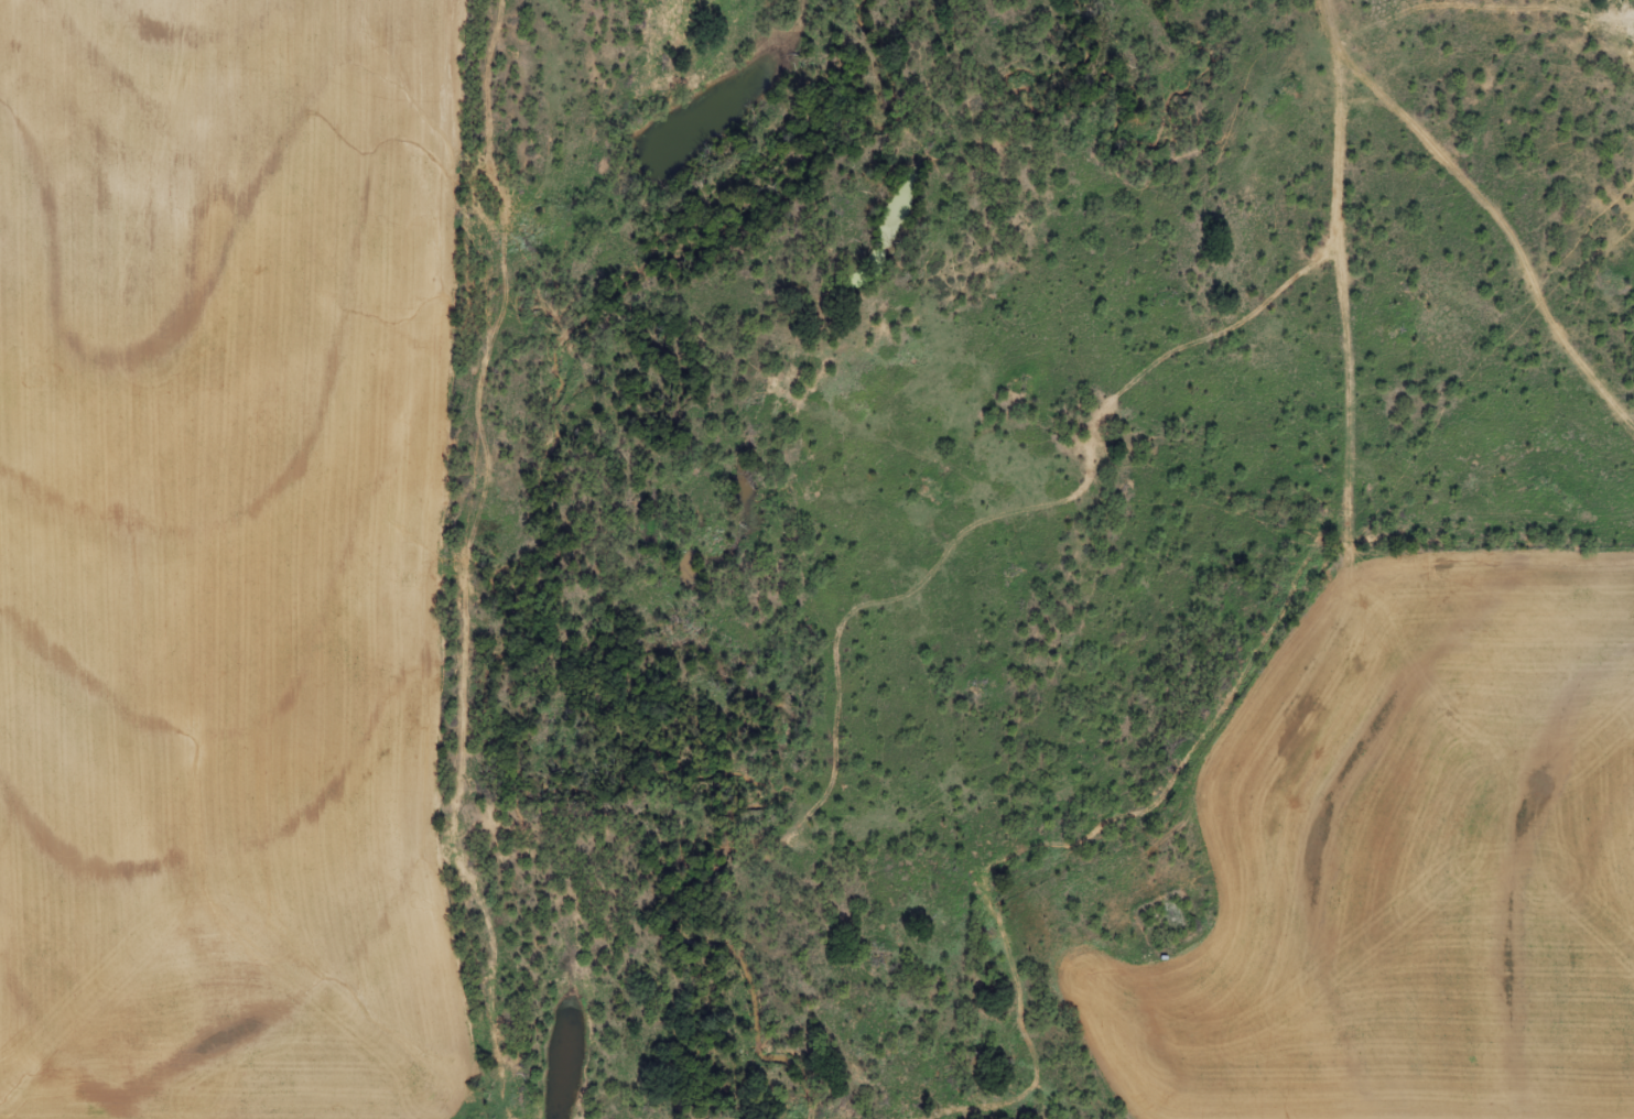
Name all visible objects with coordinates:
road: (1213, 369)

